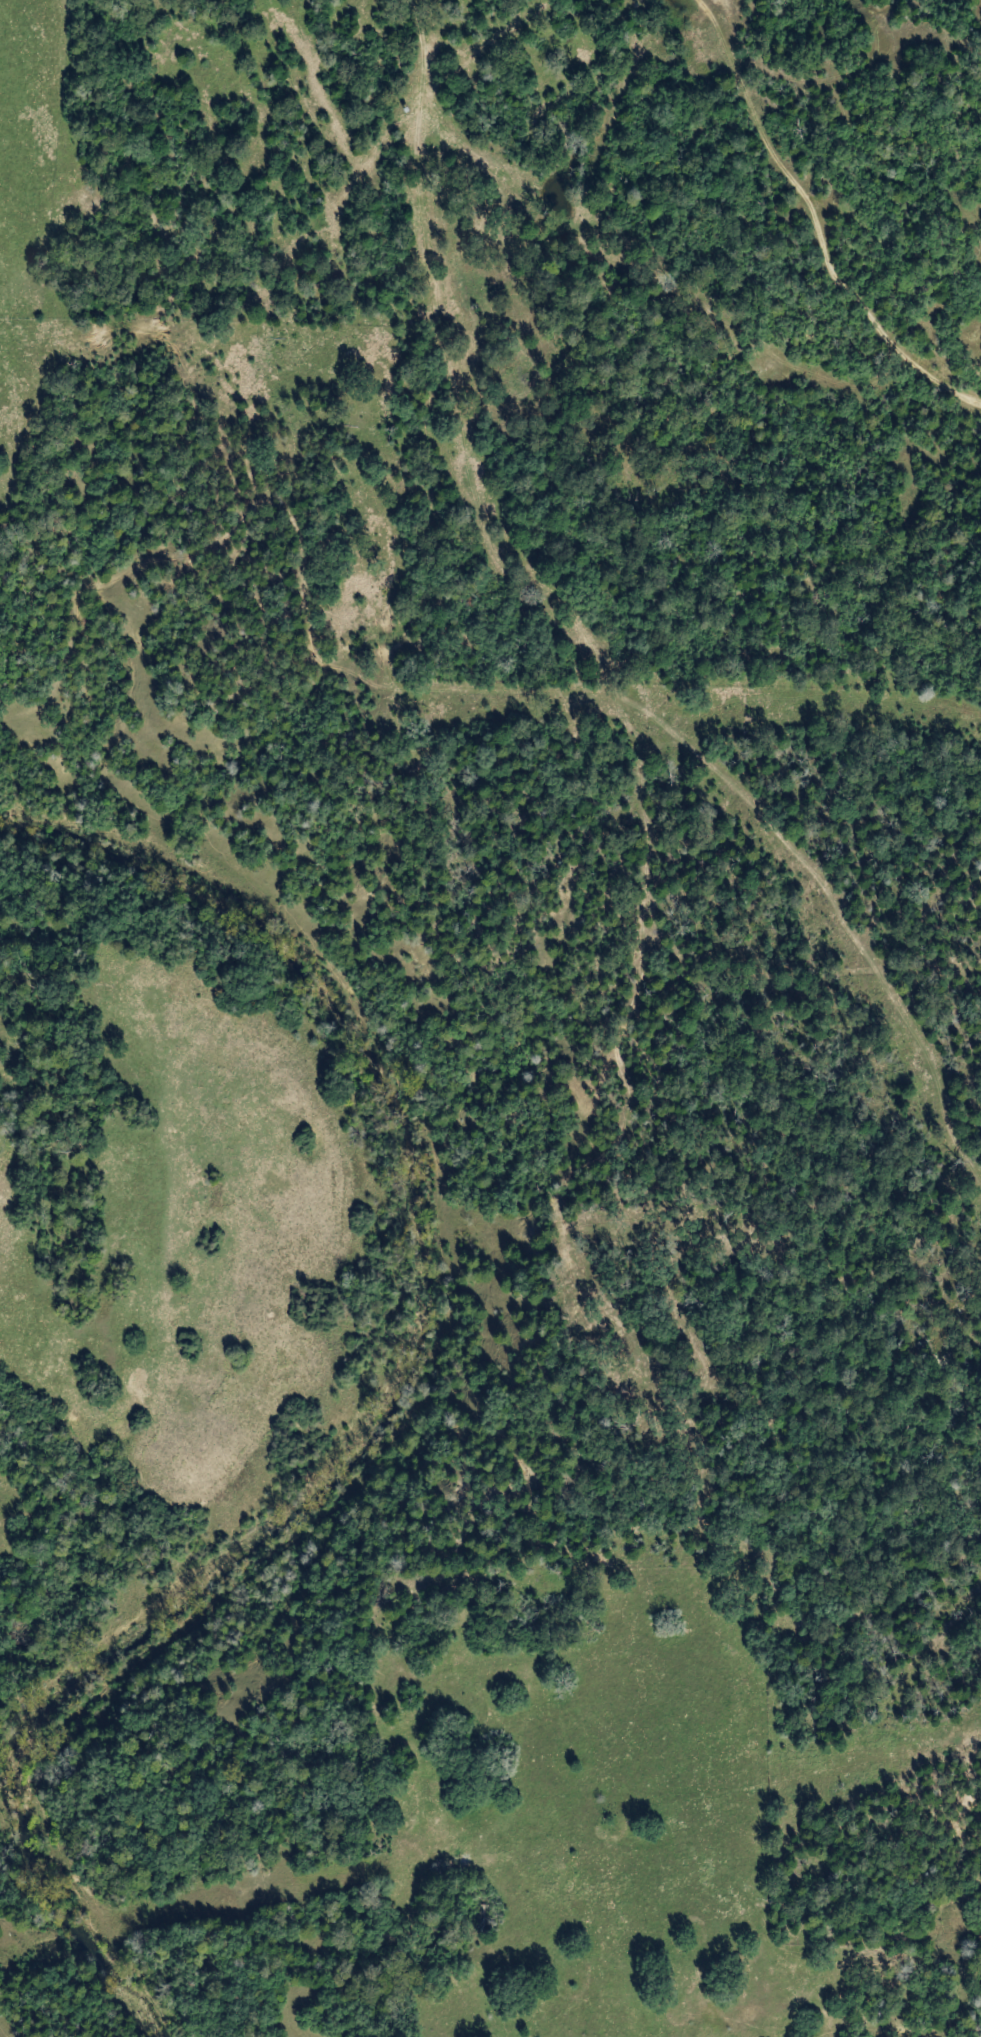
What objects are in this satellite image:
road: (813, 217)

